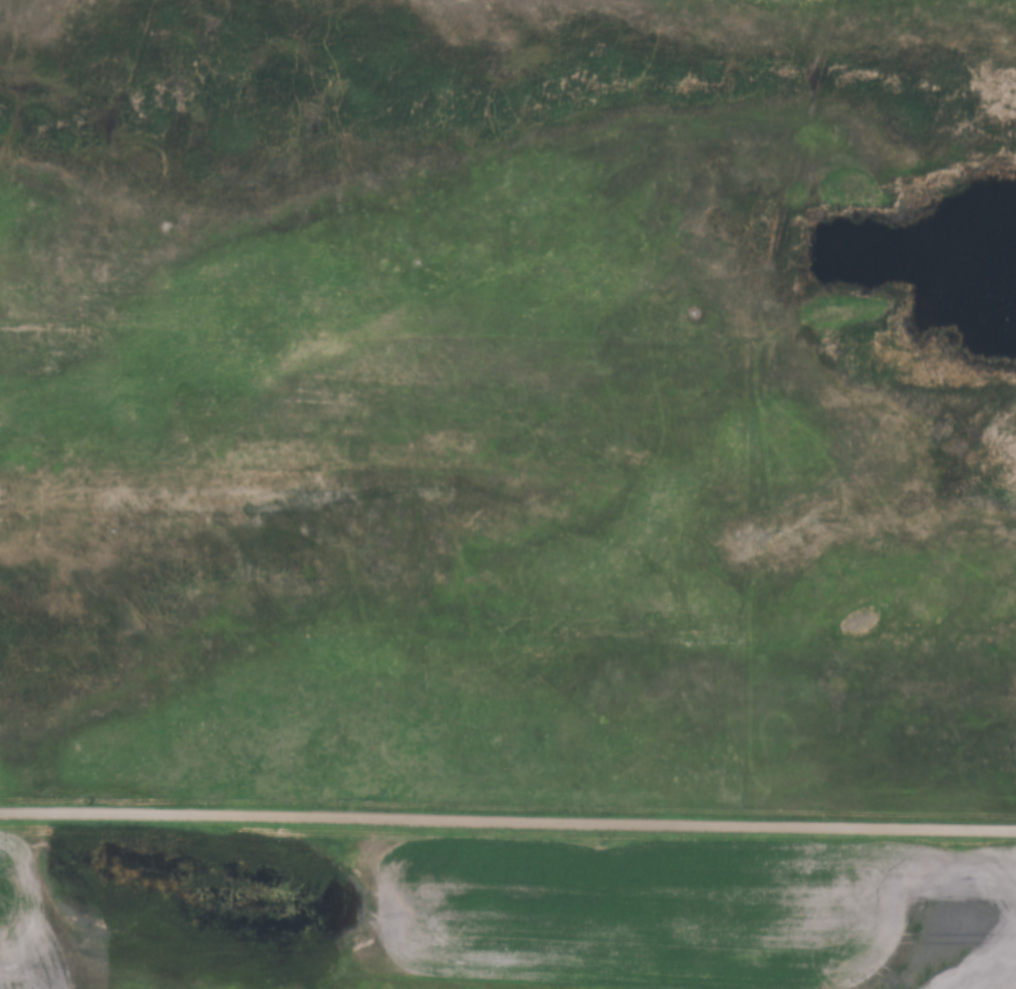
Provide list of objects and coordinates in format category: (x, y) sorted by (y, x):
road: (507, 823)

